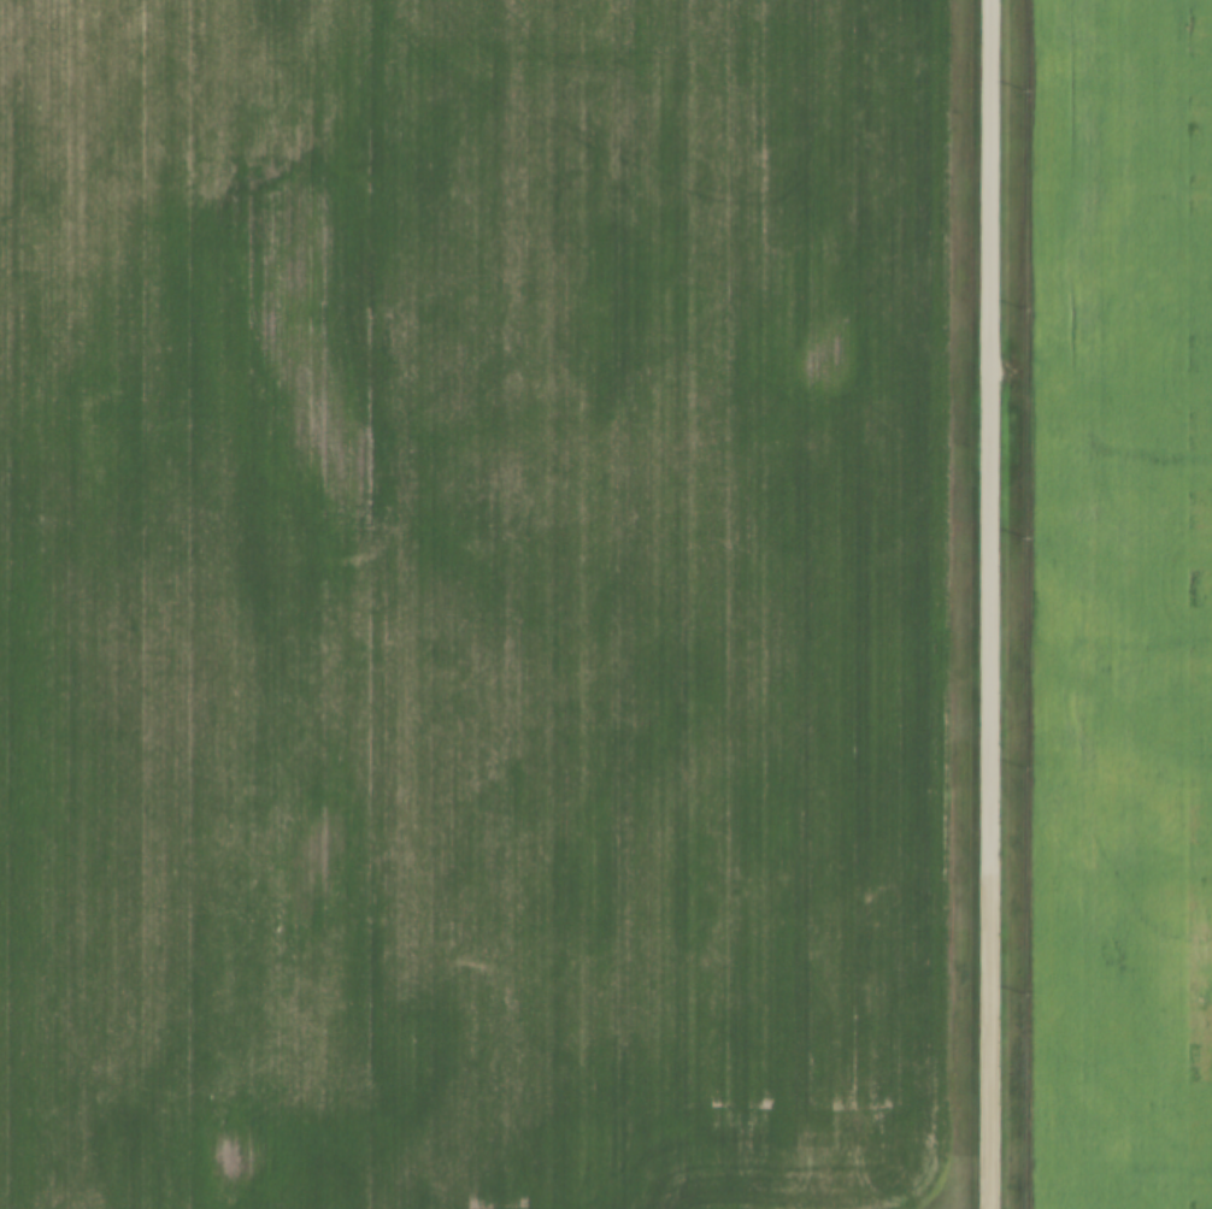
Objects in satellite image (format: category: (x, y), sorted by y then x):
road: (988, 603)

